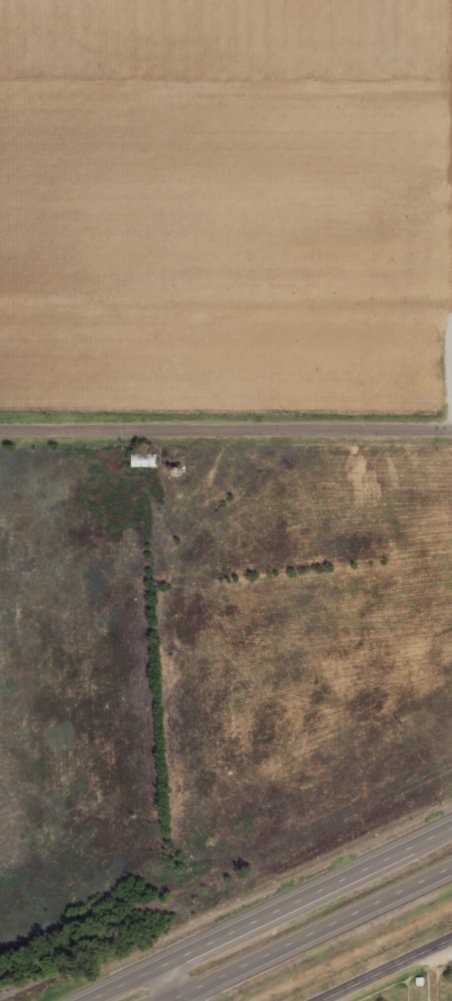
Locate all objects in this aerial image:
road: (226, 430)
building: (145, 459)
railway: (226, 861)
road: (267, 912)
road: (309, 933)
road: (436, 955)
road: (385, 970)
road: (160, 984)

